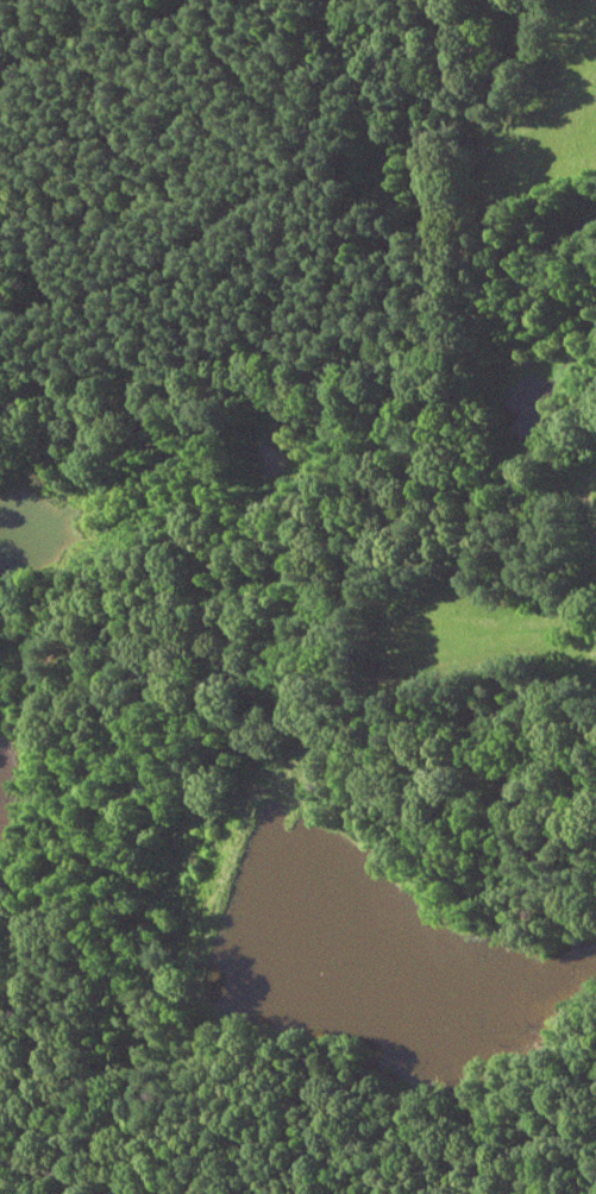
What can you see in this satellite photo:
road: (168, 1167)

